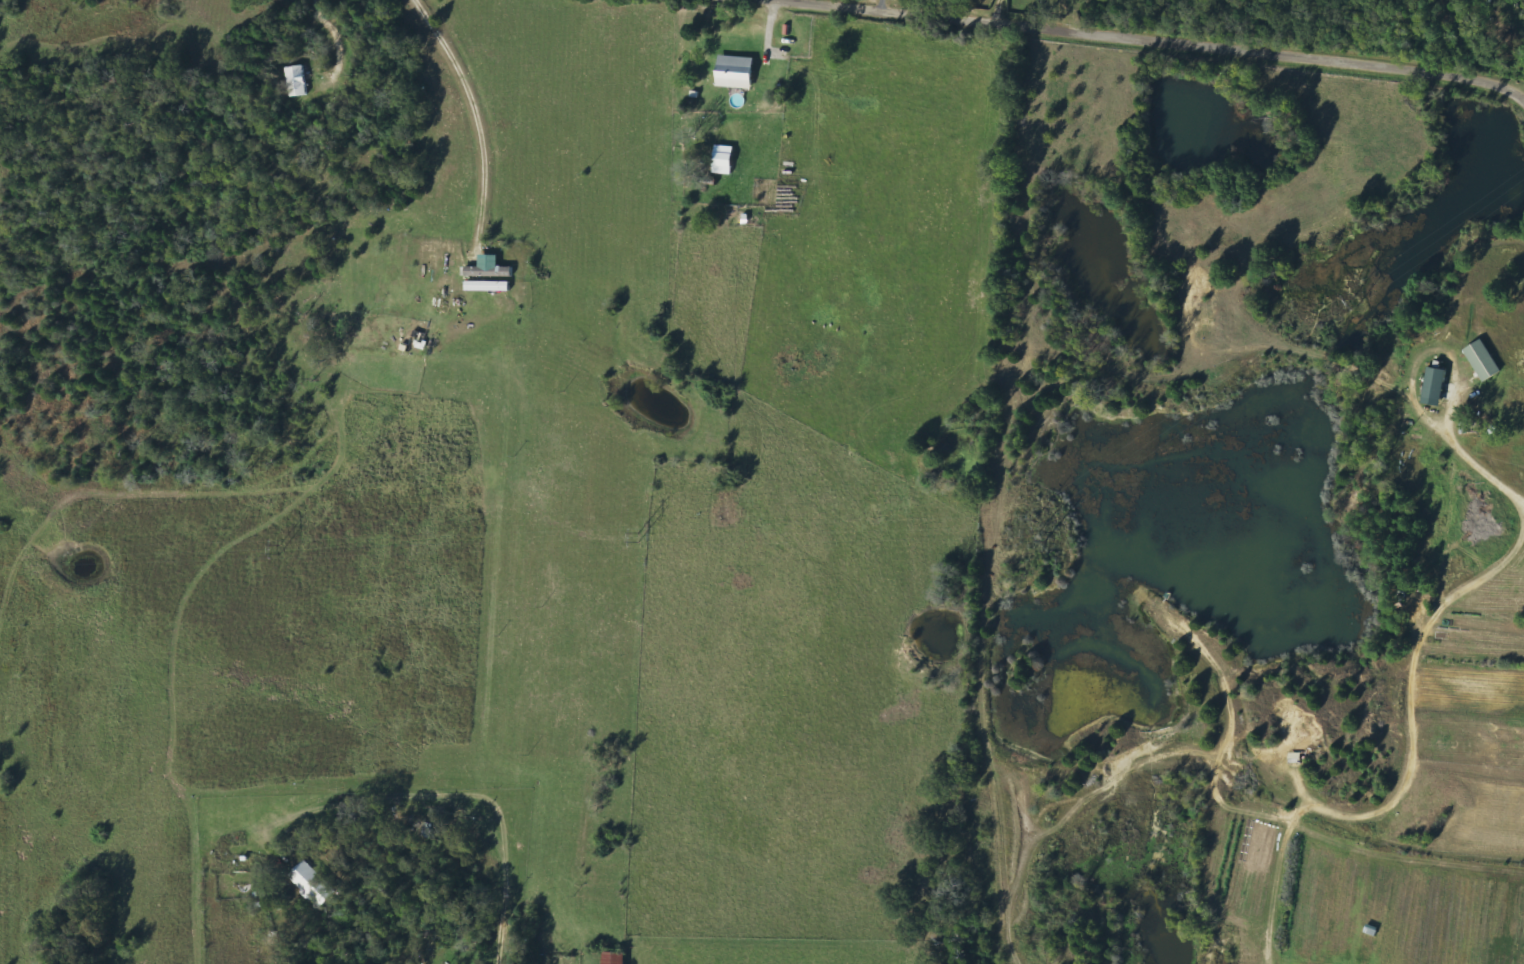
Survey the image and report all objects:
road: (1237, 51)
building: (736, 72)
building: (297, 81)
building: (724, 160)
building: (489, 278)
road: (556, 281)
power tower: (1354, 304)
building: (1483, 360)
building: (1435, 386)
power tower: (1041, 530)
power tower: (639, 536)
power tower: (282, 548)
road: (509, 878)
building: (312, 884)
building: (614, 958)

